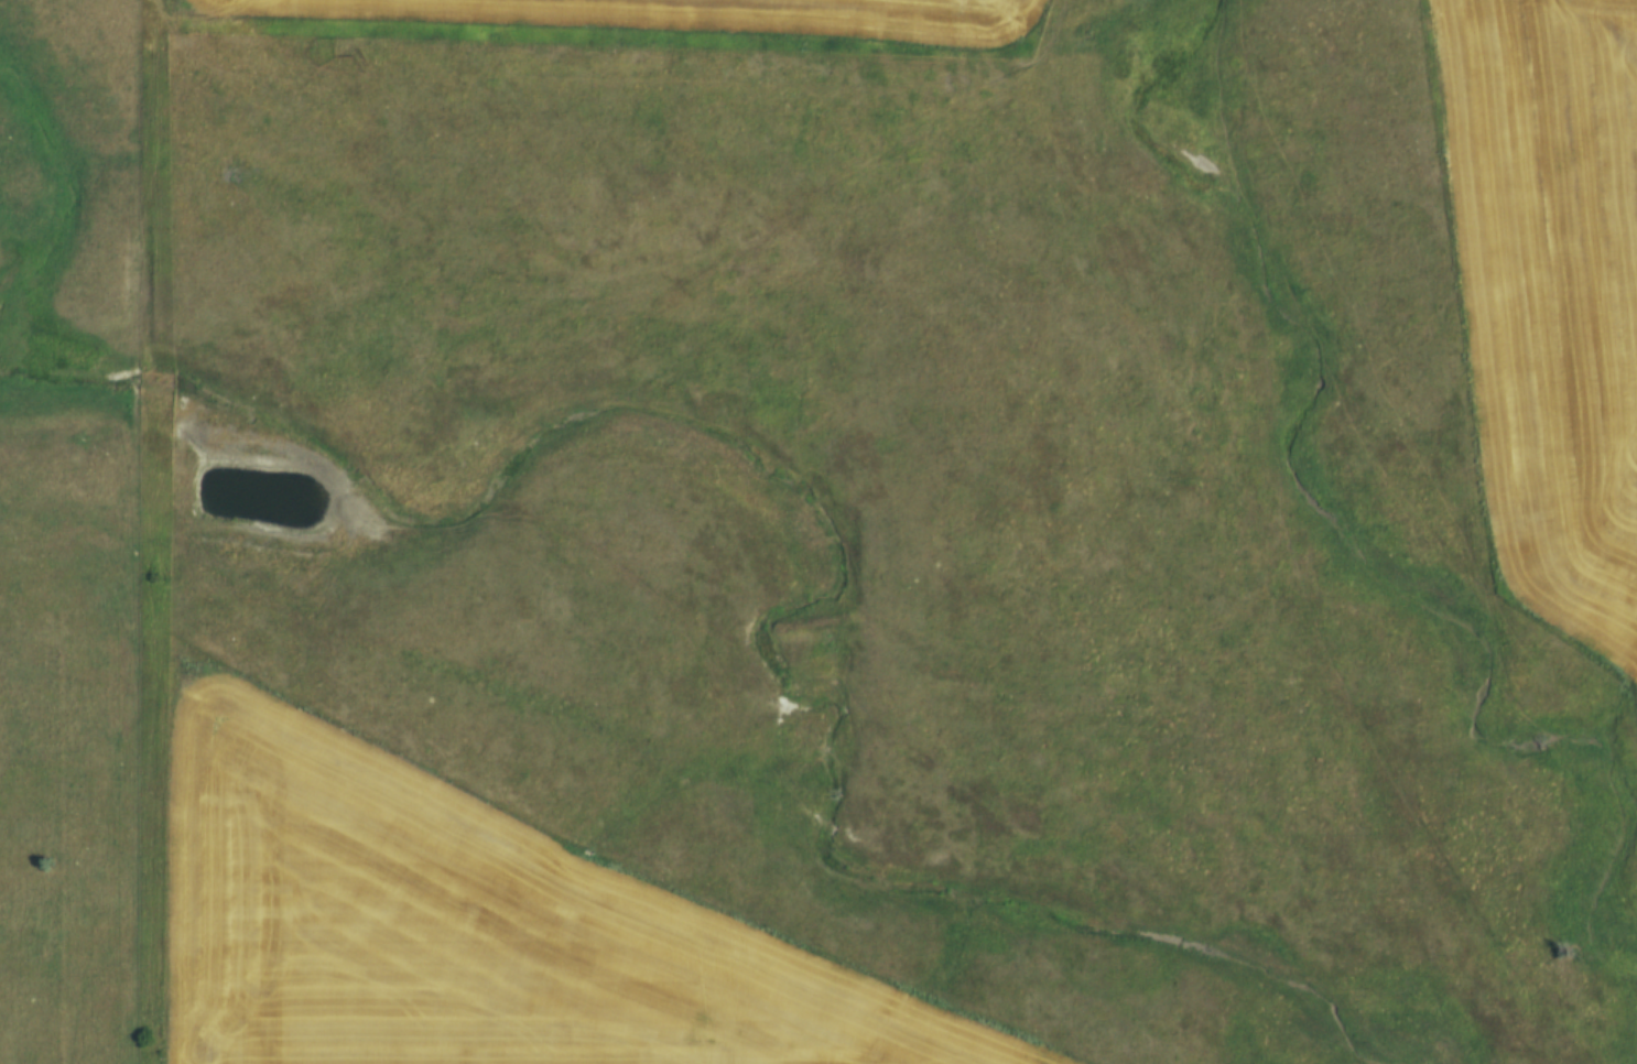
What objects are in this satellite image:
crop: (687, 15)
crop: (1552, 298)
crop: (464, 926)

